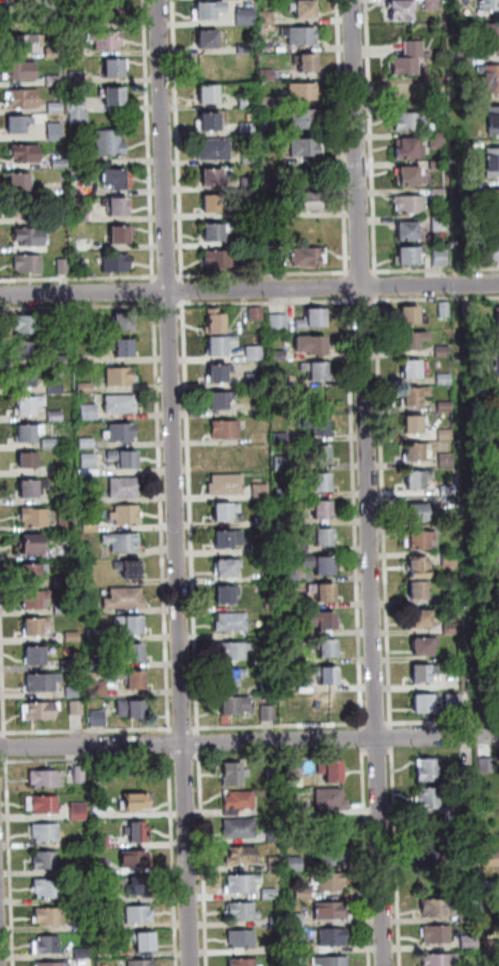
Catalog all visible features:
building: (51, 1)
building: (433, 5)
building: (113, 6)
building: (490, 6)
building: (306, 11)
building: (210, 12)
building: (400, 13)
building: (113, 17)
building: (247, 17)
building: (268, 18)
building: (302, 36)
building: (107, 41)
building: (209, 41)
building: (493, 42)
building: (27, 43)
building: (415, 49)
building: (247, 50)
building: (54, 53)
building: (466, 60)
building: (308, 63)
building: (407, 67)
building: (117, 69)
building: (22, 72)
building: (268, 75)
building: (77, 78)
building: (55, 80)
building: (490, 81)
building: (434, 82)
building: (303, 93)
building: (408, 95)
building: (210, 96)
building: (115, 97)
building: (23, 99)
building: (248, 102)
building: (269, 102)
building: (57, 108)
building: (437, 110)
building: (79, 112)
building: (305, 122)
building: (494, 122)
building: (210, 123)
building: (409, 123)
building: (20, 125)
building: (269, 128)
building: (249, 129)
building: (56, 131)
building: (438, 141)
building: (111, 144)
building: (468, 147)
building: (306, 149)
building: (216, 150)
building: (410, 151)
building: (27, 155)
building: (251, 158)
building: (81, 160)
building: (493, 163)
building: (61, 164)
building: (439, 165)
building: (215, 179)
building: (411, 179)
building: (116, 181)
building: (468, 182)
building: (22, 184)
building: (250, 184)
building: (82, 187)
building: (439, 193)
building: (310, 203)
building: (213, 205)
building: (411, 205)
building: (495, 205)
building: (118, 209)
building: (21, 211)
building: (277, 211)
building: (250, 213)
building: (81, 215)
building: (51, 218)
building: (441, 224)
building: (217, 233)
building: (408, 234)
building: (123, 236)
building: (31, 238)
building: (255, 239)
building: (87, 245)
building: (494, 248)
building: (410, 257)
building: (310, 258)
building: (441, 258)
building: (468, 258)
building: (223, 259)
building: (275, 260)
building: (28, 264)
building: (116, 264)
building: (65, 266)
building: (84, 267)
road: (249, 273)
road: (249, 289)
building: (446, 310)
building: (470, 312)
building: (257, 315)
building: (414, 318)
building: (498, 320)
building: (314, 321)
building: (64, 322)
building: (86, 322)
building: (280, 324)
building: (27, 325)
building: (216, 325)
building: (121, 326)
building: (414, 343)
building: (221, 347)
building: (313, 348)
building: (123, 349)
building: (27, 352)
building: (445, 352)
building: (256, 354)
building: (280, 356)
building: (64, 360)
building: (478, 369)
building: (496, 369)
building: (317, 372)
building: (412, 373)
building: (220, 375)
building: (122, 377)
building: (446, 380)
building: (256, 381)
building: (27, 382)
building: (280, 382)
building: (57, 387)
building: (87, 388)
building: (478, 392)
building: (416, 397)
building: (498, 400)
building: (222, 402)
building: (122, 405)
building: (30, 407)
building: (447, 407)
building: (90, 412)
building: (57, 416)
building: (416, 426)
building: (318, 428)
building: (228, 429)
building: (481, 432)
building: (122, 434)
building: (447, 435)
building: (30, 436)
building: (283, 438)
building: (498, 443)
building: (88, 444)
building: (52, 445)
building: (320, 455)
building: (416, 455)
building: (126, 461)
building: (448, 461)
building: (29, 462)
building: (283, 463)
building: (91, 466)
road: (177, 482)
building: (320, 482)
road: (371, 482)
building: (417, 482)
building: (227, 486)
building: (125, 489)
building: (34, 490)
building: (449, 490)
building: (263, 492)
building: (285, 494)
building: (91, 496)
building: (68, 499)
building: (321, 509)
building: (227, 512)
building: (417, 514)
building: (39, 517)
building: (127, 517)
building: (287, 521)
building: (265, 522)
building: (69, 524)
building: (91, 525)
building: (453, 527)
building: (498, 527)
building: (323, 537)
building: (229, 540)
building: (418, 542)
building: (124, 543)
building: (32, 547)
building: (71, 548)
building: (302, 548)
building: (261, 549)
building: (451, 560)
building: (321, 566)
building: (420, 569)
building: (228, 570)
building: (131, 571)
building: (289, 575)
building: (32, 576)
building: (63, 582)
building: (324, 592)
building: (420, 593)
building: (228, 596)
building: (453, 598)
building: (35, 600)
building: (126, 600)
building: (293, 601)
building: (270, 602)
building: (63, 610)
building: (325, 621)
building: (424, 621)
building: (233, 622)
building: (133, 626)
building: (39, 627)
building: (453, 629)
building: (292, 630)
building: (97, 636)
building: (74, 637)
building: (425, 648)
building: (236, 651)
building: (329, 651)
building: (135, 656)
building: (36, 659)
building: (294, 660)
building: (98, 665)
building: (71, 666)
building: (425, 675)
building: (233, 678)
building: (327, 678)
building: (134, 681)
building: (44, 684)
building: (306, 688)
building: (100, 690)
building: (271, 690)
building: (76, 693)
building: (487, 693)
building: (455, 702)
building: (328, 705)
building: (427, 705)
building: (236, 708)
building: (78, 710)
building: (132, 711)
building: (41, 712)
building: (269, 713)
building: (293, 713)
building: (99, 720)
road: (249, 742)
building: (488, 766)
building: (295, 768)
building: (429, 772)
building: (467, 774)
building: (332, 775)
building: (81, 776)
building: (235, 776)
building: (274, 778)
building: (47, 781)
building: (429, 800)
building: (331, 801)
building: (240, 802)
building: (136, 806)
building: (466, 806)
building: (43, 807)
building: (298, 810)
building: (80, 812)
building: (240, 830)
building: (47, 834)
building: (138, 834)
building: (277, 837)
building: (77, 843)
building: (103, 843)
building: (431, 856)
building: (243, 857)
building: (334, 857)
building: (491, 860)
building: (135, 861)
building: (47, 862)
building: (470, 862)
building: (296, 864)
building: (278, 865)
building: (102, 868)
building: (333, 885)
building: (243, 886)
building: (491, 887)
building: (138, 888)
building: (48, 890)
building: (271, 894)
building: (305, 894)
building: (83, 898)
building: (436, 909)
building: (331, 912)
building: (243, 914)
building: (469, 915)
building: (140, 917)
building: (49, 918)
building: (297, 920)
building: (279, 922)
building: (106, 924)
building: (83, 926)
building: (437, 936)
building: (334, 938)
building: (243, 941)
building: (144, 943)
building: (471, 943)
building: (493, 945)
building: (48, 946)
building: (300, 946)
building: (280, 950)
building: (84, 953)
building: (106, 953)
building: (441, 960)
road: (0, 961)
building: (333, 962)
building: (142, 963)
building: (244, 963)
building: (54, 965)

